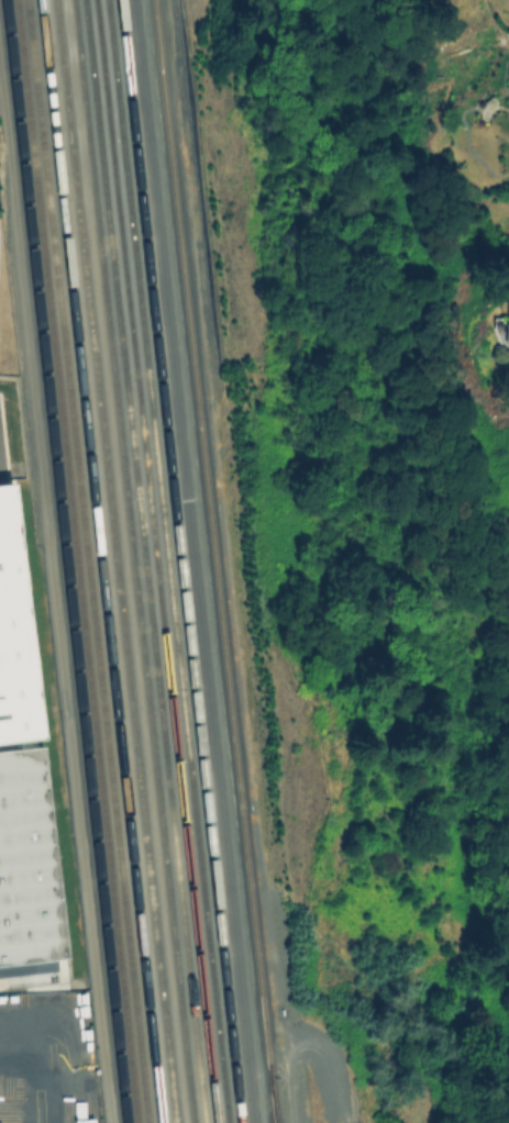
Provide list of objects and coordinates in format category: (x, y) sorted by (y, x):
building: (506, 315)
railway: (63, 561)
railway: (76, 561)
railway: (86, 561)
railway: (100, 561)
railway: (115, 561)
railway: (132, 561)
railway: (143, 561)
railway: (155, 561)
railway: (167, 561)
railway: (179, 561)
road: (192, 561)
railway: (213, 561)
building: (13, 640)
road: (58, 657)
building: (16, 744)
building: (26, 866)
road: (47, 1074)
railway: (270, 1098)

